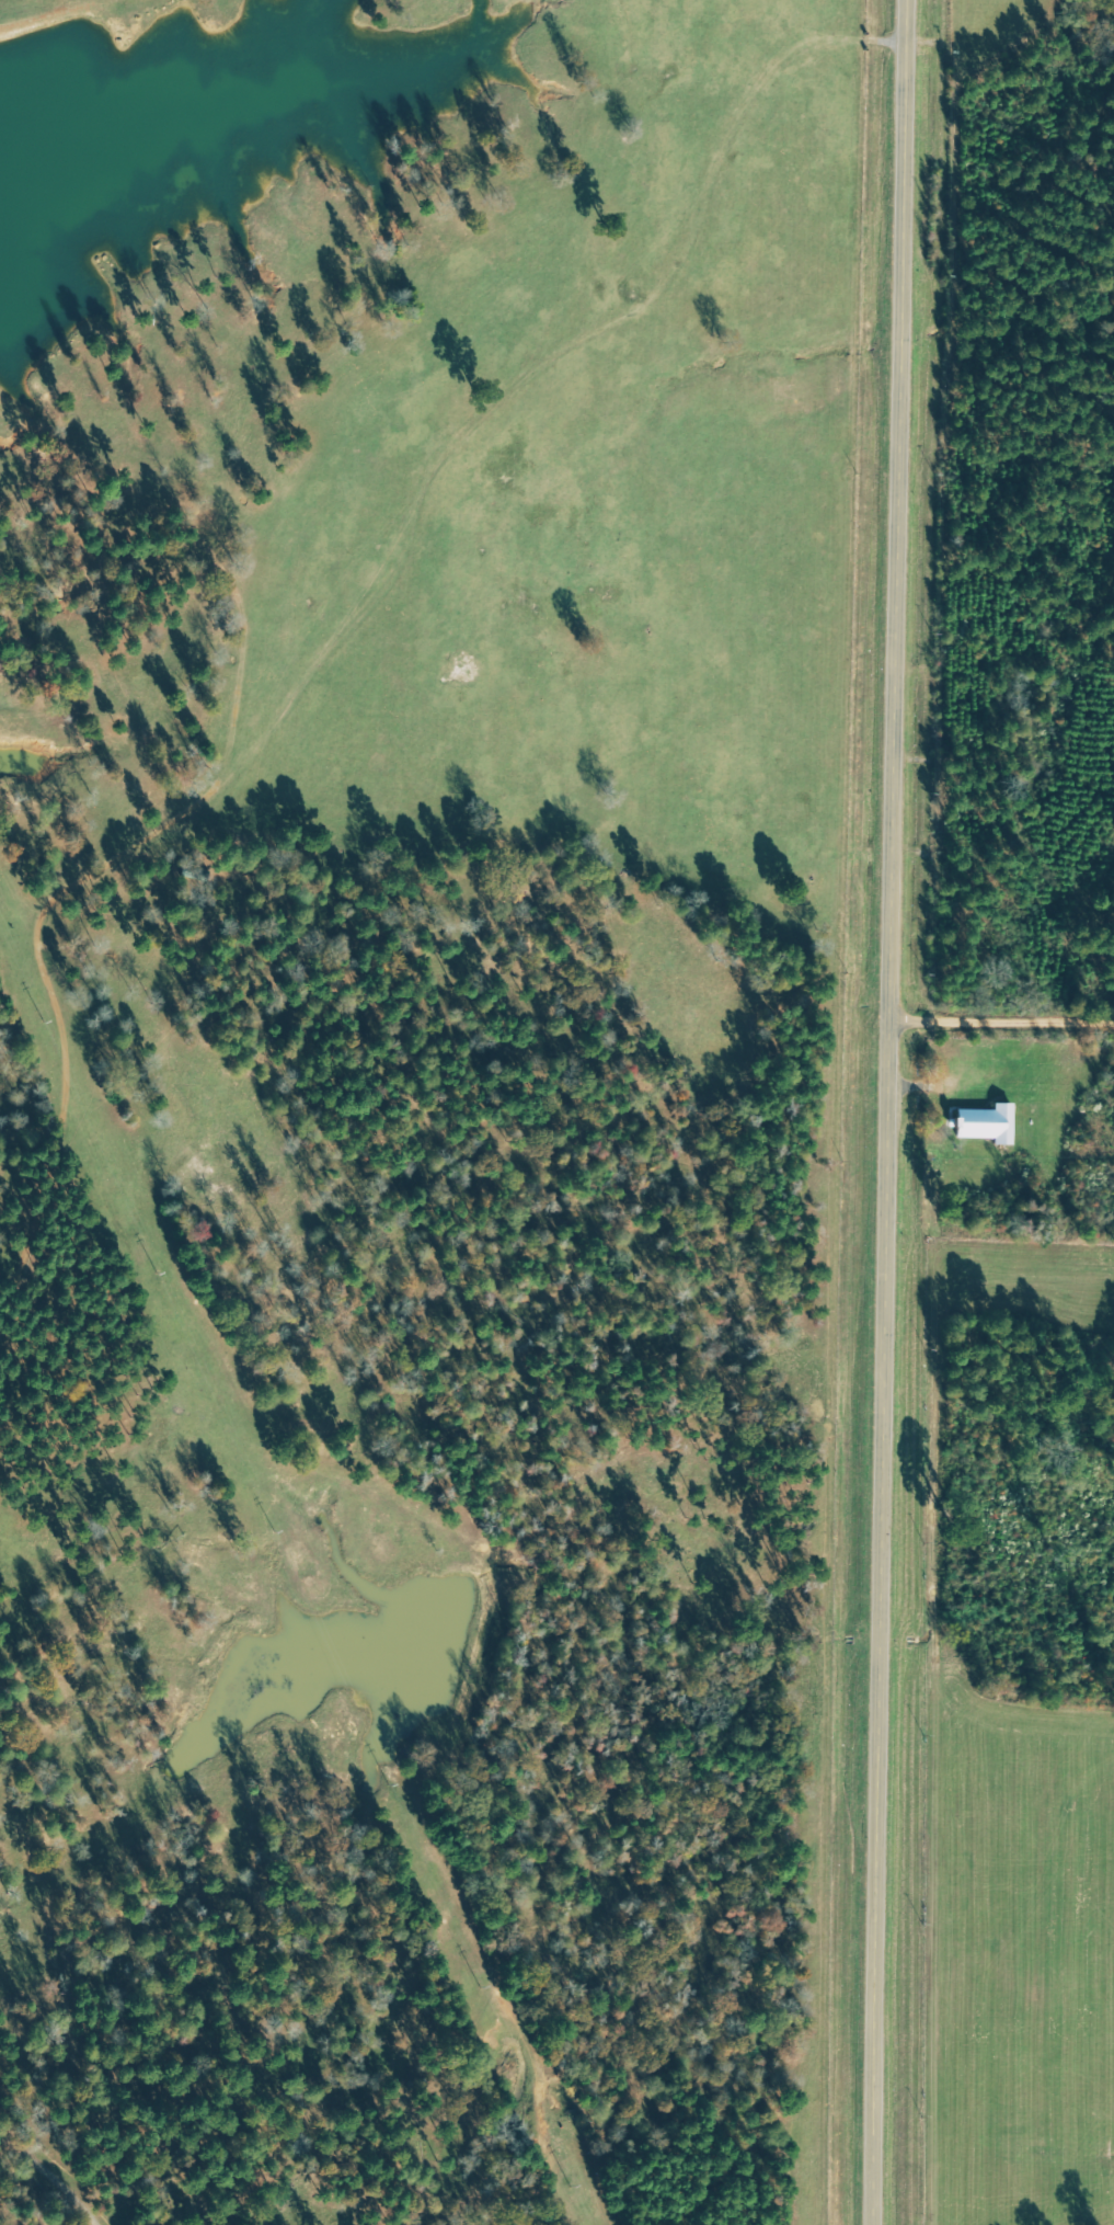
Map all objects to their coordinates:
road: (1001, 1022)
road: (887, 1111)
building: (985, 1125)

